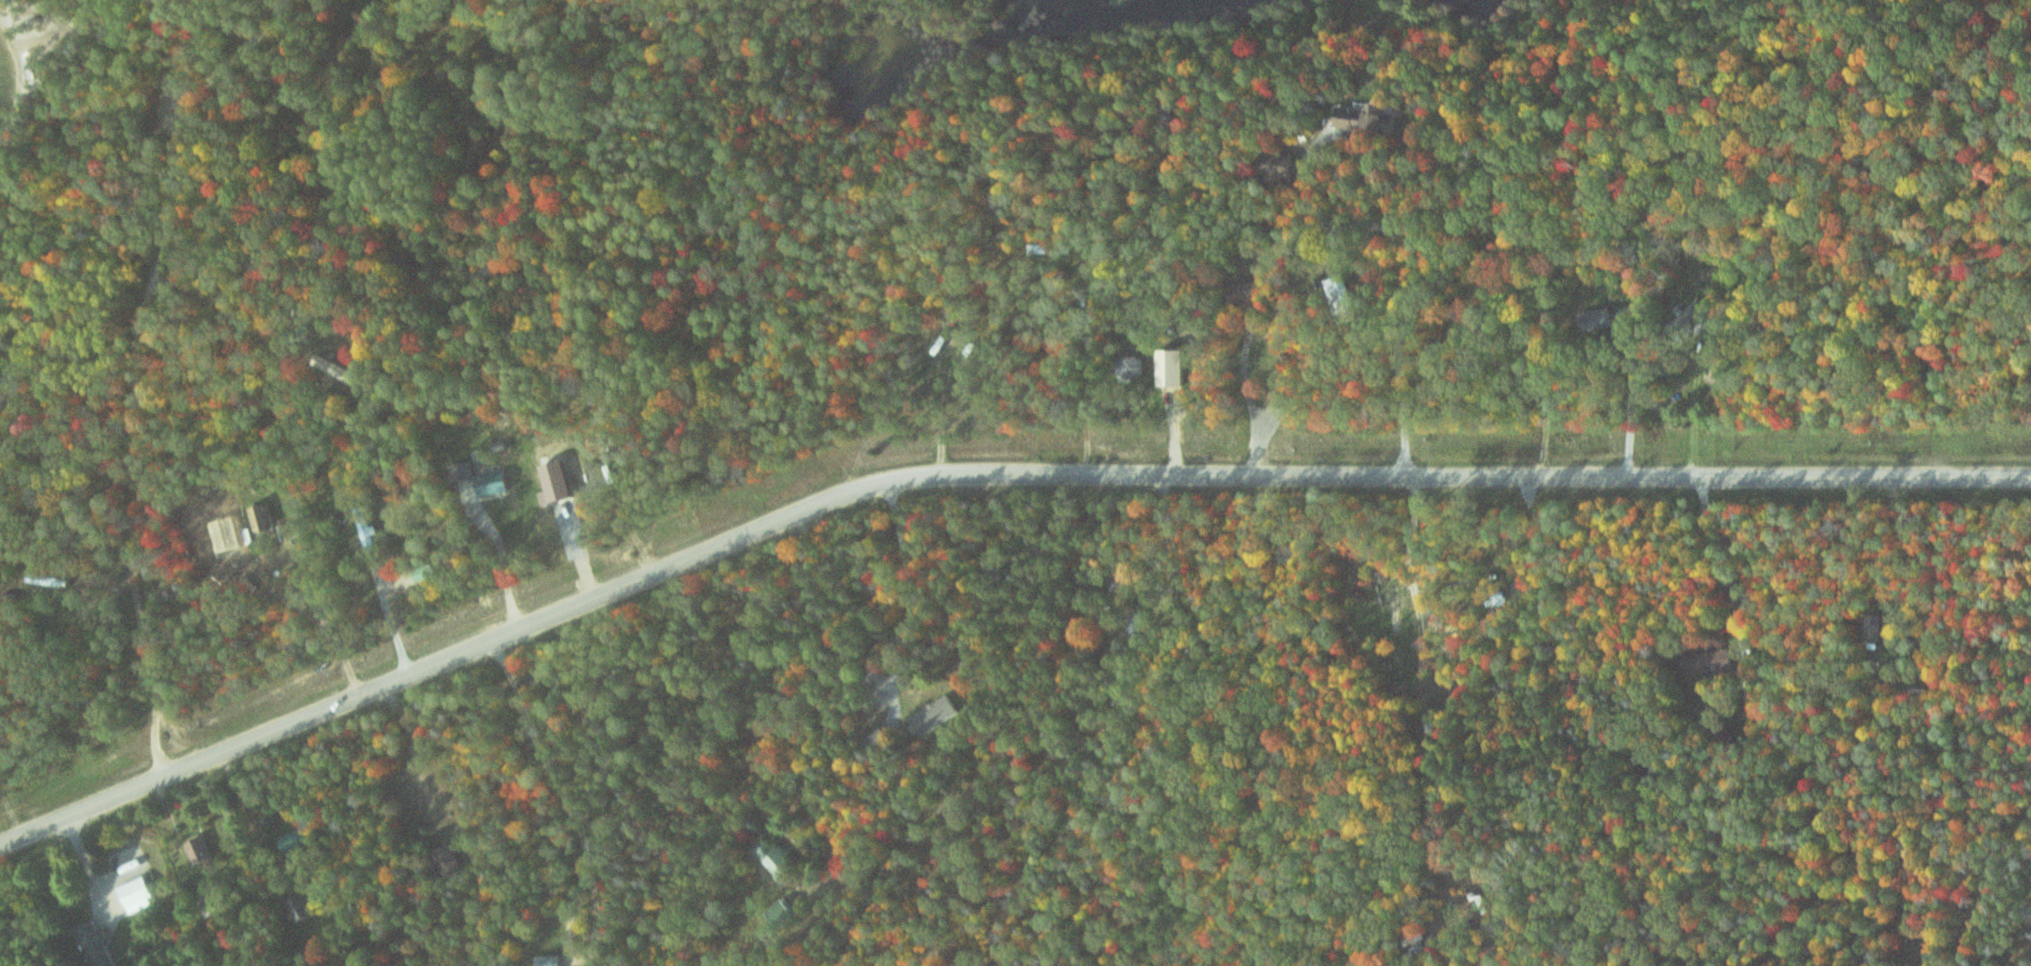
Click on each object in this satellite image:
building: (1370, 120)
road: (912, 237)
building: (1047, 249)
road: (1431, 294)
building: (1336, 300)
road: (36, 319)
building: (1596, 321)
road: (147, 342)
building: (1128, 367)
building: (336, 371)
road: (980, 473)
building: (492, 485)
building: (366, 530)
building: (46, 581)
road: (1969, 596)
building: (1877, 626)
road: (1806, 632)
road: (1571, 637)
road: (913, 665)
road: (1117, 686)
road: (1282, 691)
building: (933, 715)
building: (199, 852)
building: (772, 861)
building: (445, 862)
building: (136, 895)
building: (299, 908)
building: (778, 913)
building: (94, 944)
building: (547, 960)

